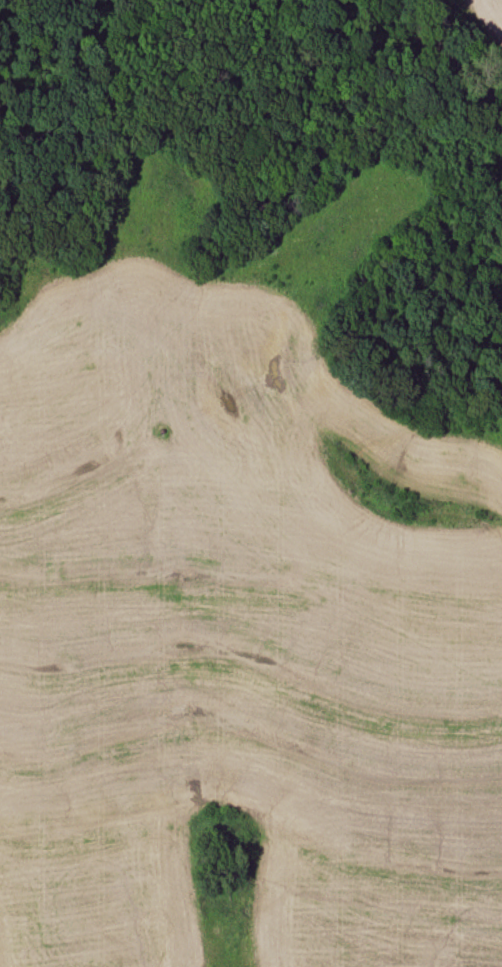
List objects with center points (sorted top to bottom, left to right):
river: (417, 70)

